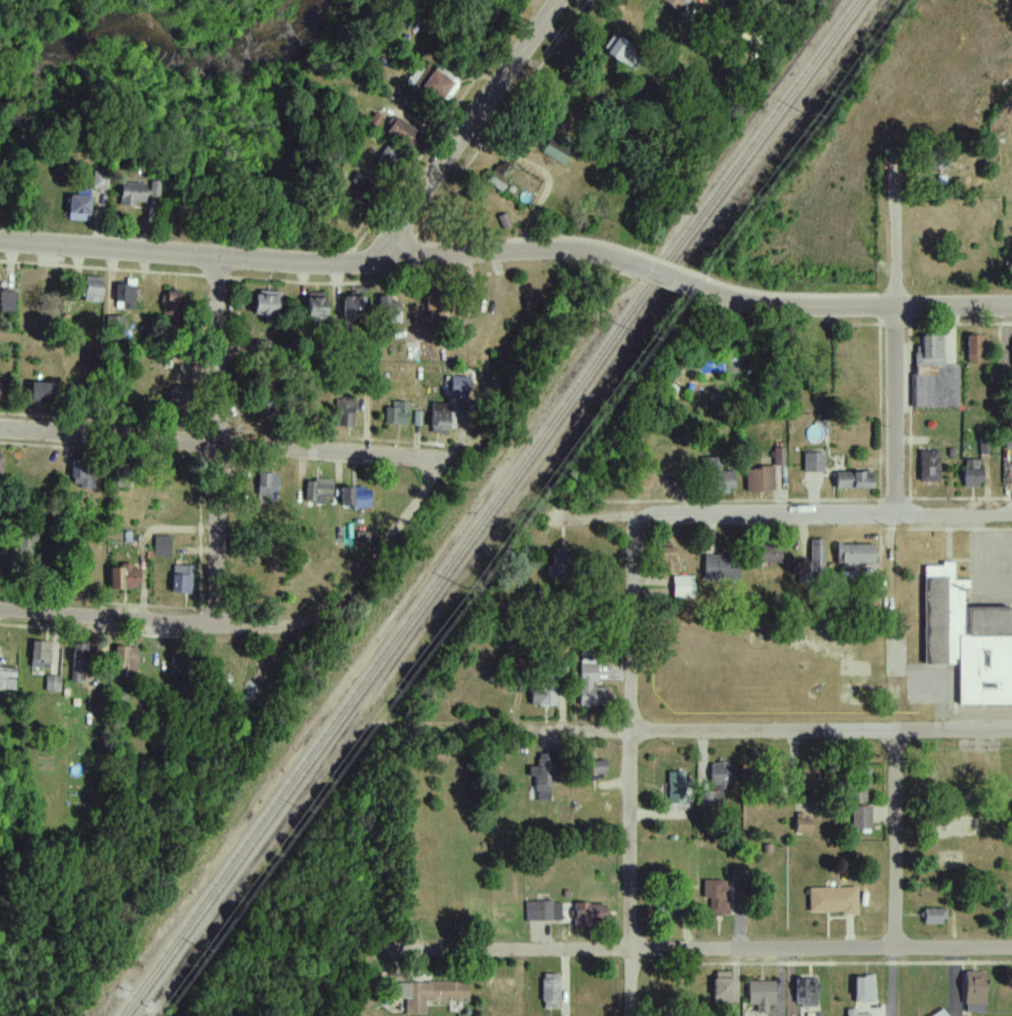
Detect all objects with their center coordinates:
building: (688, 0)
building: (671, 3)
building: (400, 131)
road: (468, 131)
building: (557, 151)
building: (937, 158)
building: (504, 167)
building: (132, 193)
building: (79, 204)
road: (309, 262)
road: (659, 274)
building: (42, 284)
building: (93, 290)
building: (118, 293)
building: (8, 302)
building: (171, 302)
building: (434, 303)
building: (265, 304)
road: (854, 307)
building: (315, 308)
building: (353, 313)
building: (118, 327)
building: (975, 349)
building: (934, 374)
building: (41, 393)
road: (896, 394)
building: (180, 399)
building: (346, 413)
building: (399, 413)
building: (441, 415)
road: (219, 440)
building: (1009, 442)
road: (222, 443)
building: (814, 462)
building: (0, 463)
building: (929, 465)
building: (973, 473)
building: (716, 477)
building: (77, 478)
building: (760, 478)
building: (854, 480)
building: (268, 484)
building: (318, 491)
building: (355, 497)
railway: (499, 506)
railway: (487, 507)
road: (781, 514)
building: (32, 542)
building: (162, 546)
building: (771, 554)
road: (376, 555)
building: (817, 555)
building: (666, 557)
building: (853, 558)
building: (561, 563)
building: (1, 566)
building: (722, 567)
building: (113, 578)
building: (130, 578)
building: (182, 579)
building: (83, 580)
building: (683, 587)
road: (143, 620)
building: (967, 641)
building: (42, 654)
building: (127, 660)
building: (82, 662)
building: (182, 669)
building: (8, 678)
building: (54, 684)
building: (591, 687)
building: (544, 694)
building: (119, 703)
road: (767, 731)
road: (633, 765)
building: (593, 770)
building: (544, 777)
building: (811, 780)
building: (719, 784)
building: (862, 785)
building: (677, 789)
building: (862, 819)
building: (803, 826)
road: (898, 840)
building: (834, 901)
building: (724, 904)
building: (669, 906)
building: (549, 911)
building: (589, 915)
building: (934, 916)
road: (694, 949)
building: (502, 985)
building: (723, 987)
building: (865, 989)
building: (551, 990)
building: (976, 992)
building: (762, 993)
building: (807, 993)
building: (433, 995)
building: (859, 1013)
building: (940, 1013)

